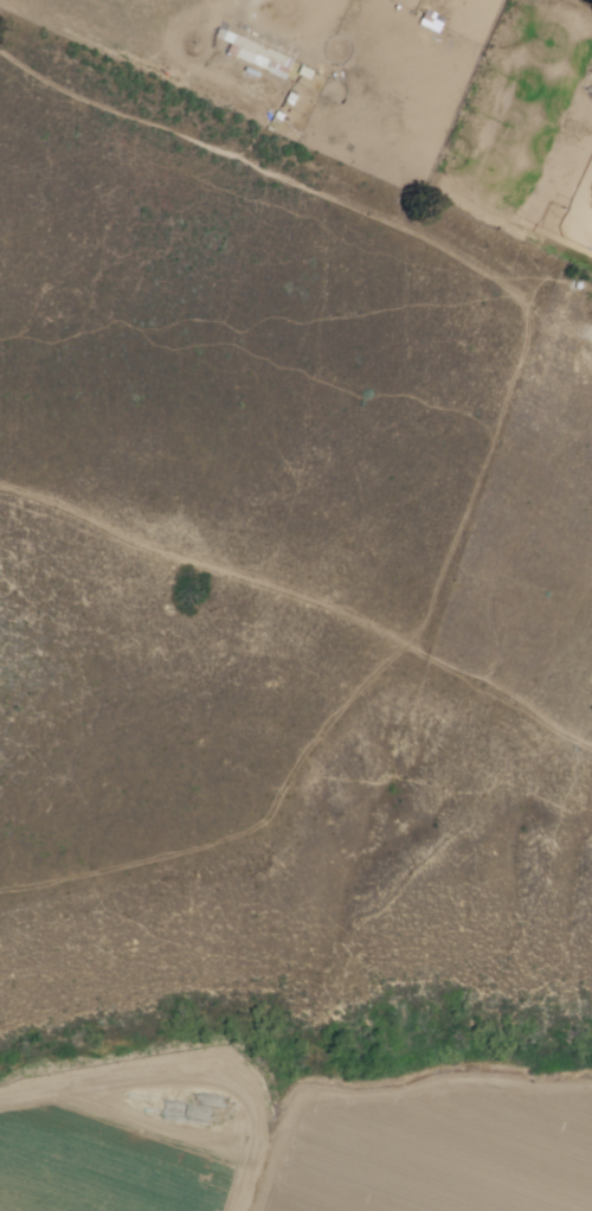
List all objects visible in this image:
building: (266, 56)
crop: (445, 1159)
crop: (110, 1161)

